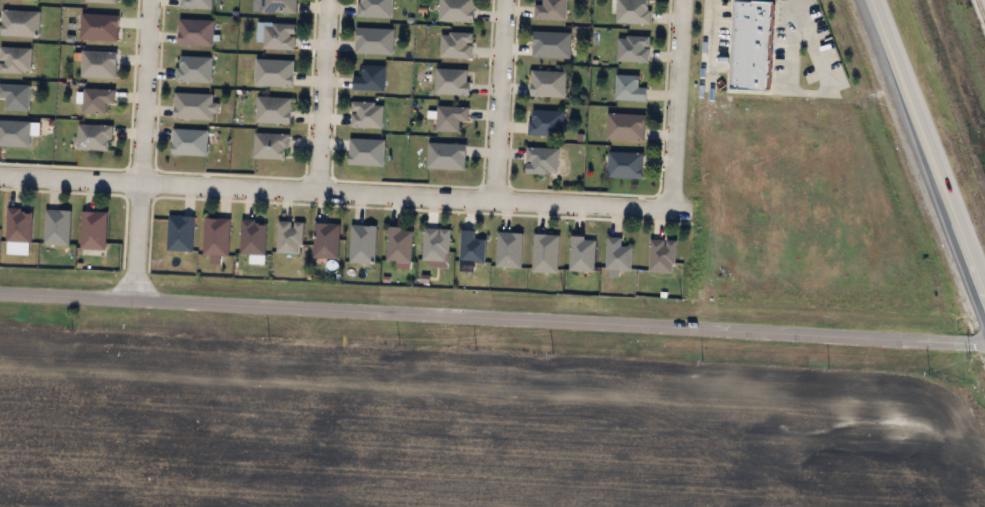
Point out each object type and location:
building: (102, 1)
building: (196, 4)
building: (275, 6)
building: (375, 8)
building: (550, 10)
railway: (980, 10)
building: (455, 11)
building: (632, 12)
building: (20, 23)
building: (99, 27)
building: (195, 32)
building: (276, 35)
building: (374, 41)
road: (709, 43)
building: (551, 44)
building: (455, 45)
building: (749, 45)
building: (633, 49)
building: (15, 59)
building: (98, 64)
building: (193, 69)
building: (273, 73)
building: (370, 78)
building: (452, 82)
building: (547, 84)
building: (629, 89)
road: (811, 92)
road: (322, 95)
building: (15, 96)
road: (496, 99)
building: (96, 100)
road: (676, 104)
building: (193, 106)
building: (273, 109)
building: (366, 114)
building: (450, 117)
building: (545, 123)
building: (625, 126)
building: (15, 133)
building: (94, 137)
building: (189, 142)
building: (270, 146)
road: (929, 146)
road: (140, 149)
building: (366, 152)
building: (446, 156)
building: (542, 161)
building: (625, 165)
road: (335, 190)
building: (19, 226)
building: (57, 227)
building: (93, 230)
building: (180, 233)
building: (216, 237)
building: (252, 237)
building: (289, 238)
building: (326, 244)
building: (362, 244)
building: (399, 244)
building: (435, 244)
building: (471, 247)
building: (509, 250)
building: (545, 253)
building: (582, 254)
building: (617, 256)
building: (662, 256)
road: (492, 317)

